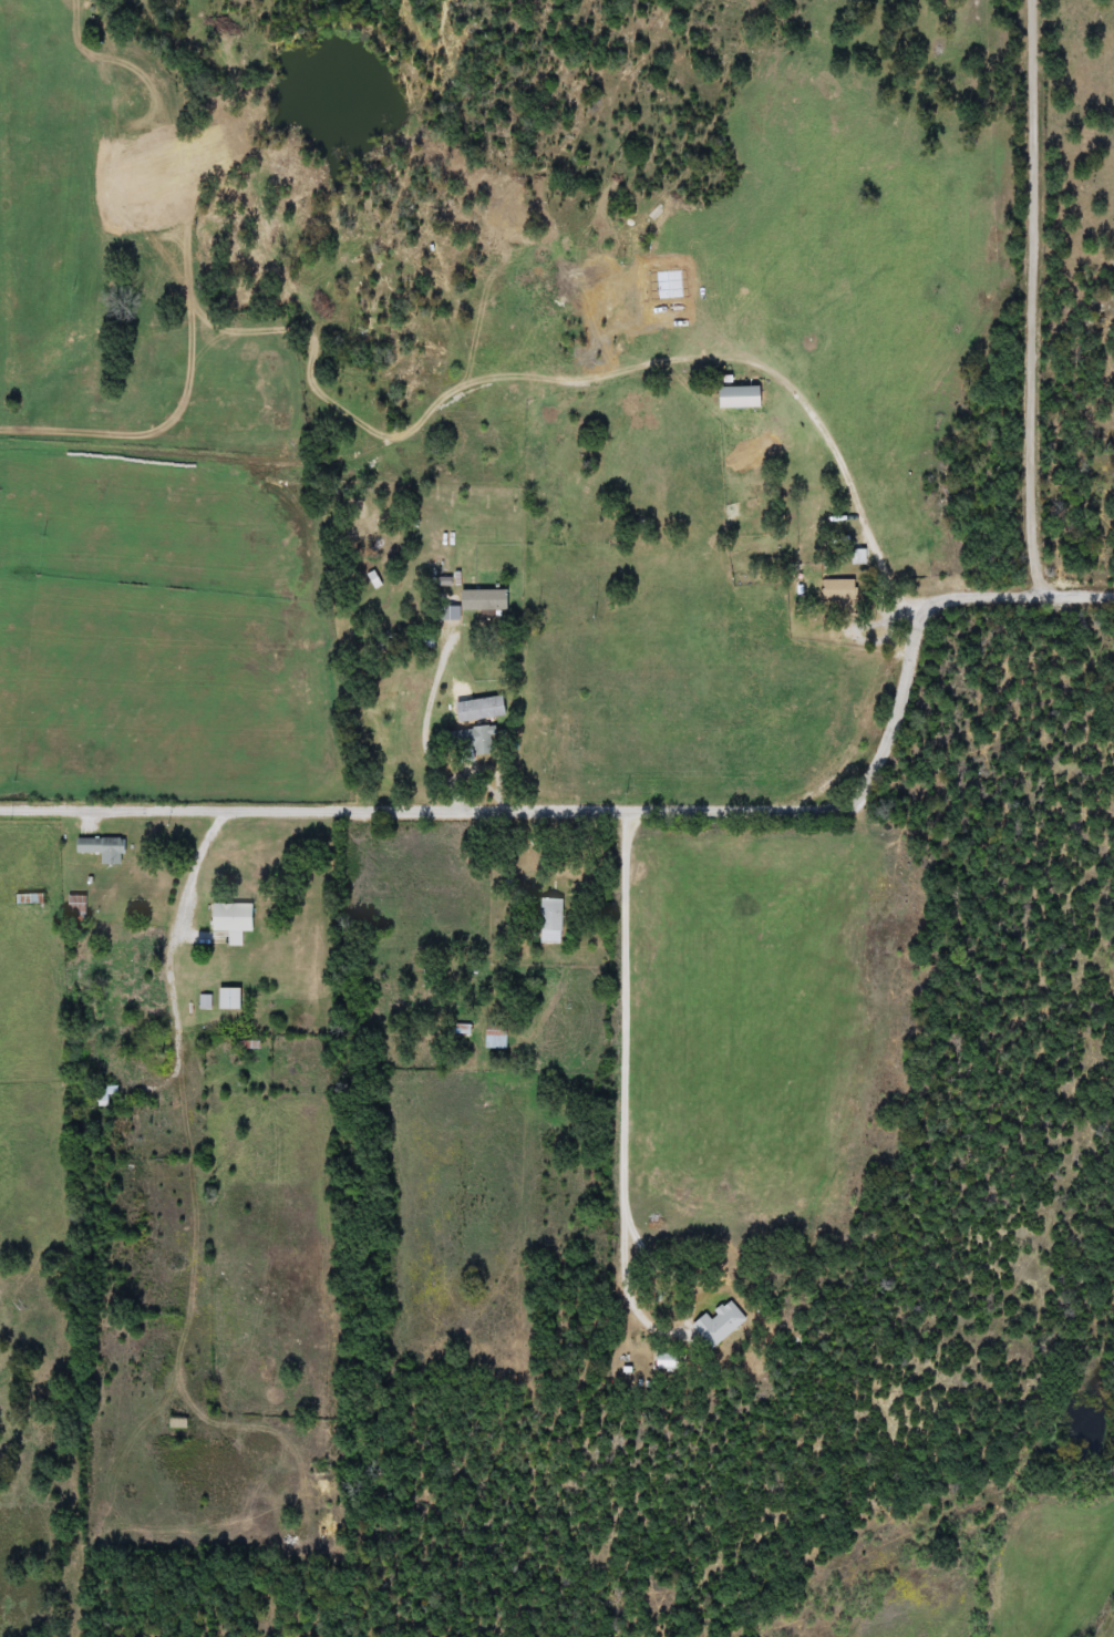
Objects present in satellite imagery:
road: (1033, 295)
road: (781, 374)
building: (734, 398)
building: (750, 493)
building: (807, 529)
building: (838, 594)
building: (482, 600)
road: (431, 711)
building: (471, 740)
road: (629, 806)
building: (101, 848)
building: (28, 899)
building: (75, 904)
building: (549, 918)
building: (230, 922)
road: (176, 934)
building: (228, 999)
building: (494, 1038)
building: (101, 1094)
road: (626, 1163)
building: (718, 1324)
building: (175, 1423)

